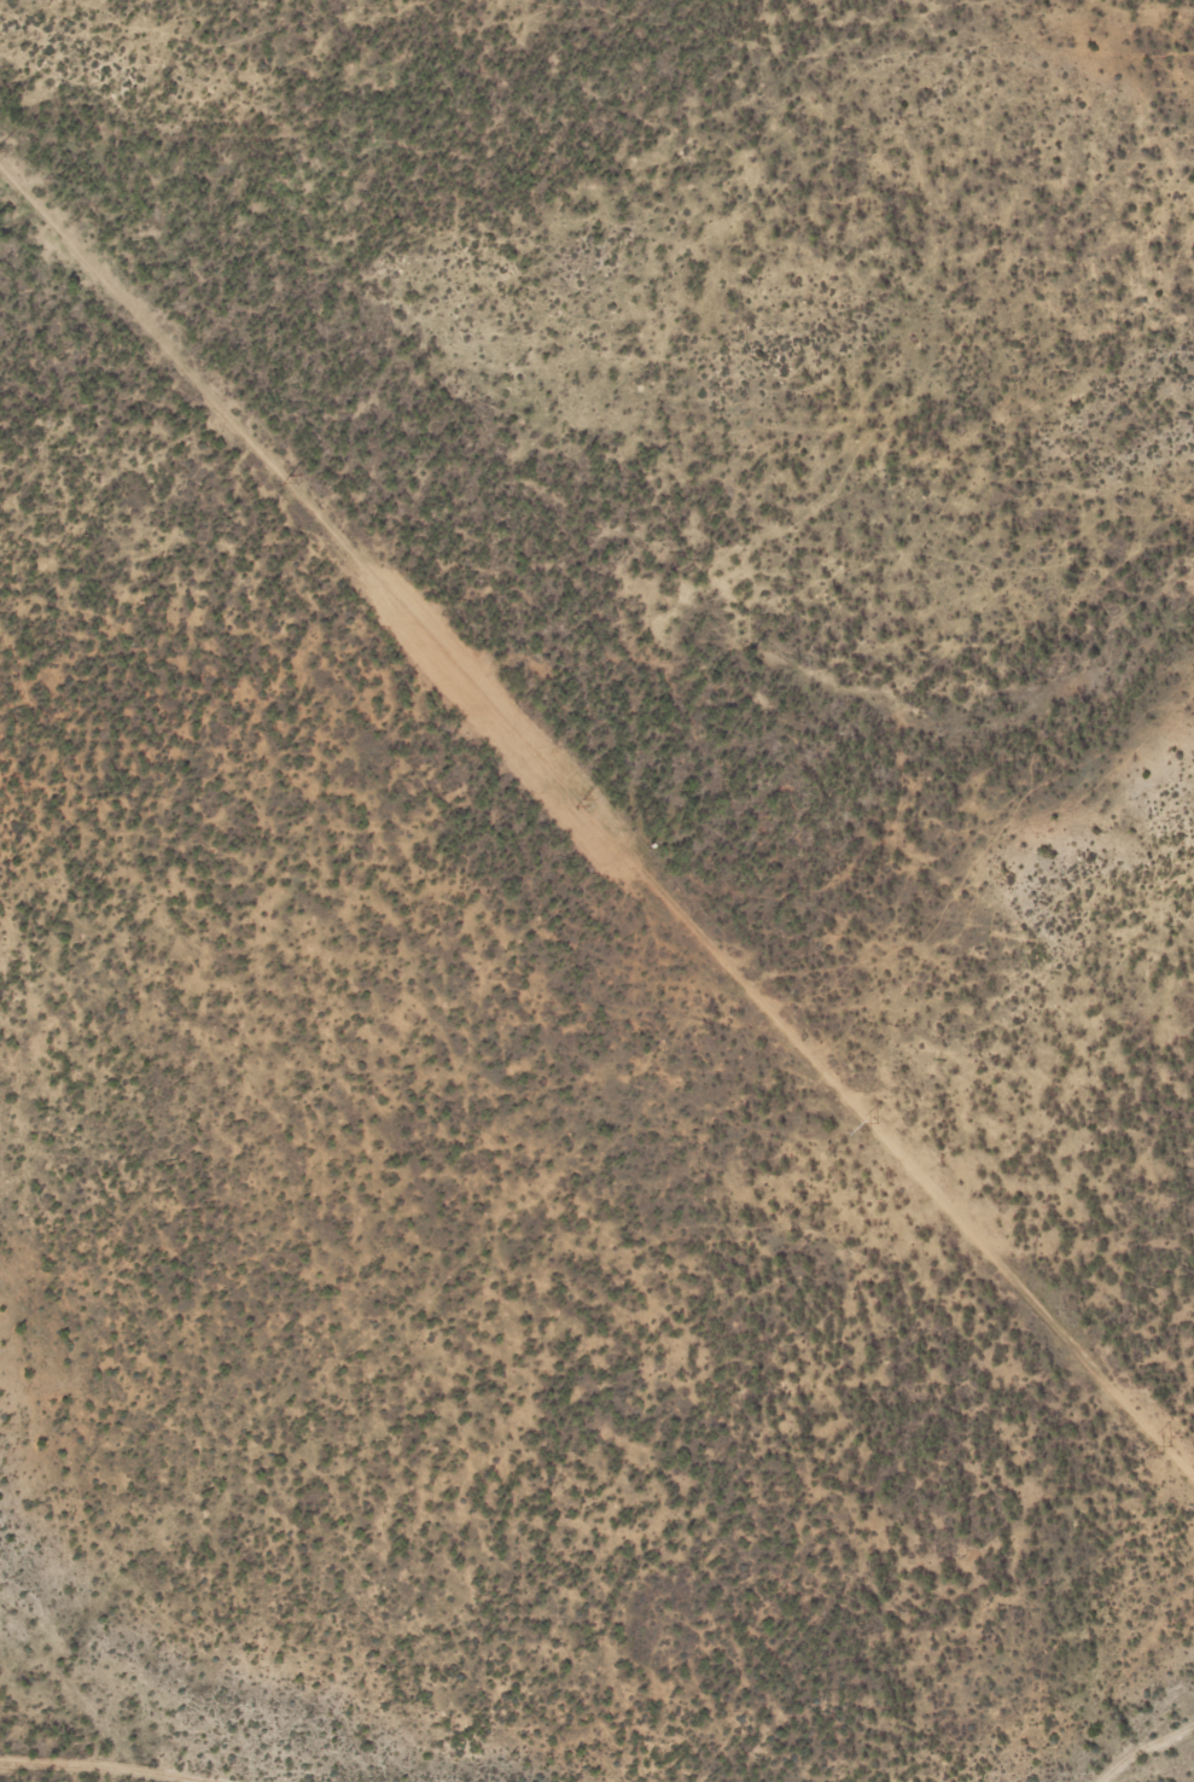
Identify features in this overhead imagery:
power tower: (283, 479)
power tower: (577, 803)
road: (596, 816)
power tower: (870, 1125)
power tower: (1163, 1449)
road: (1143, 1745)
road: (97, 1766)

